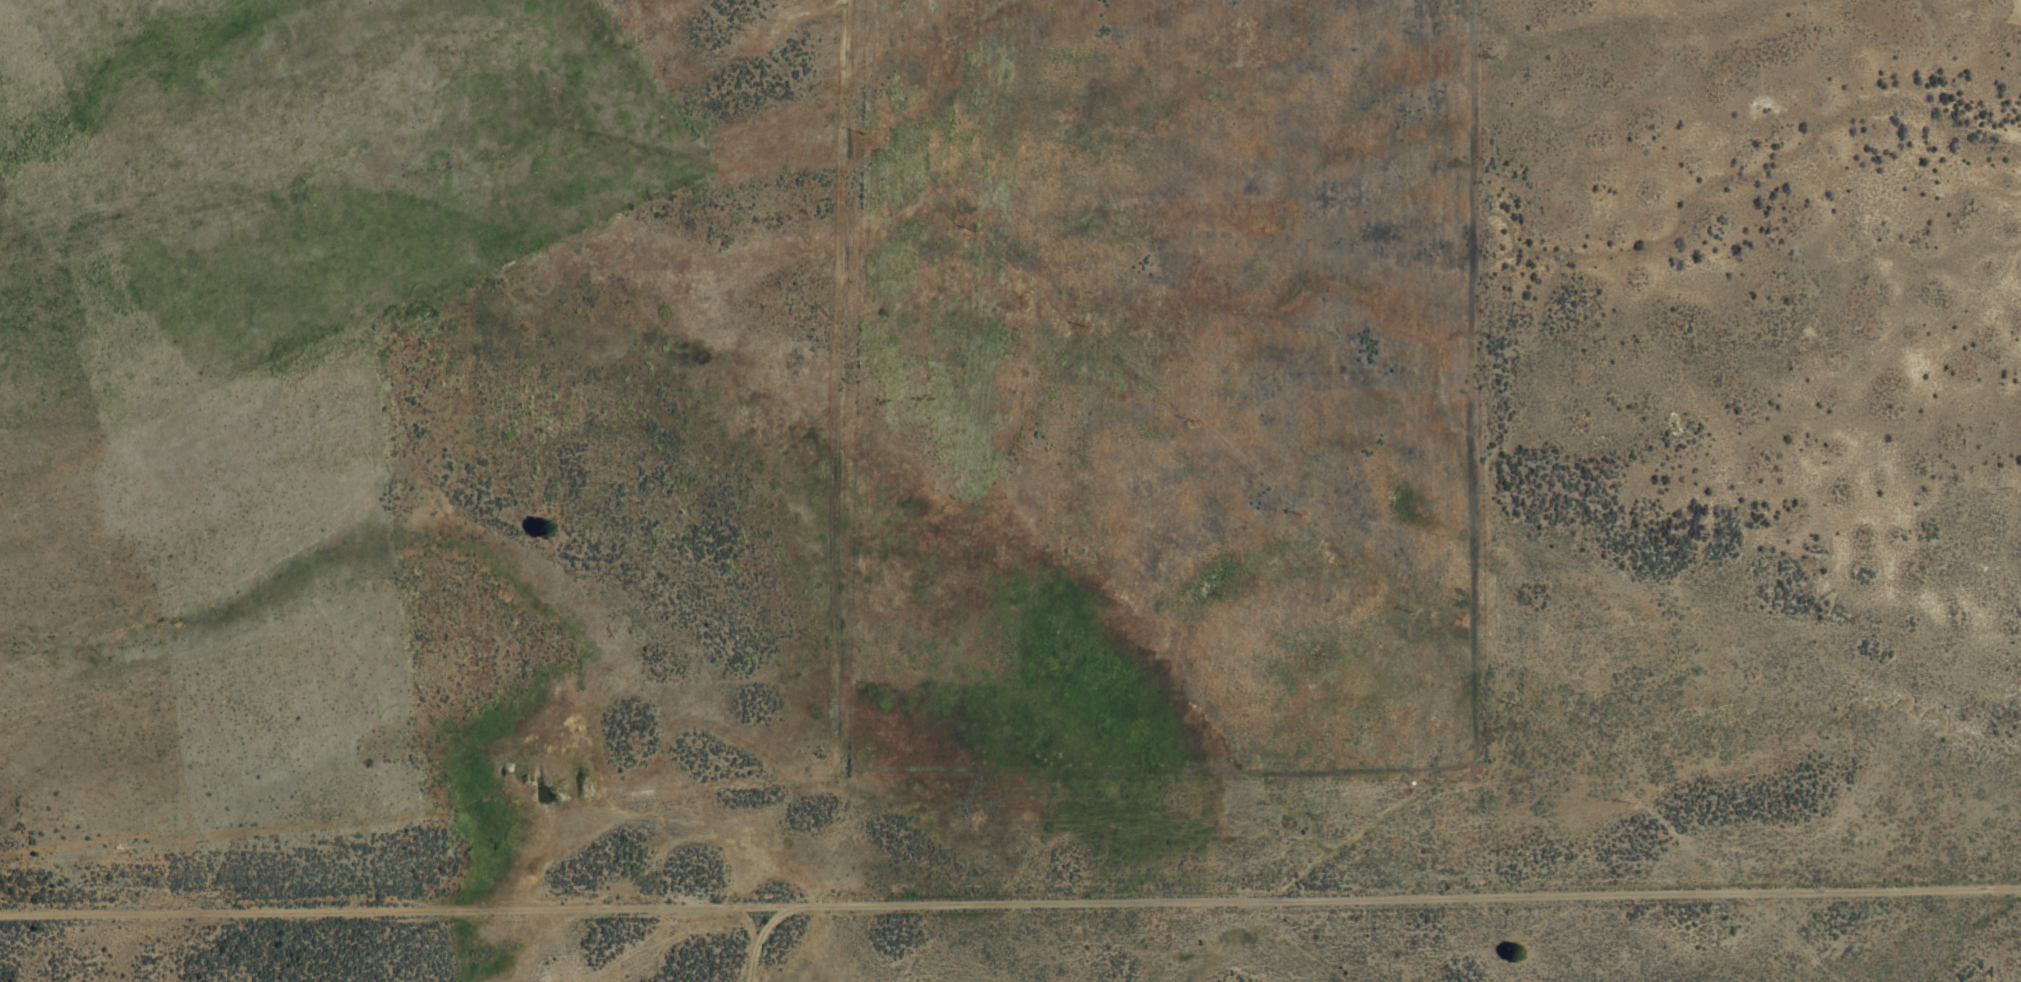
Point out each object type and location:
crop: (967, 467)
road: (1010, 876)
road: (763, 931)

